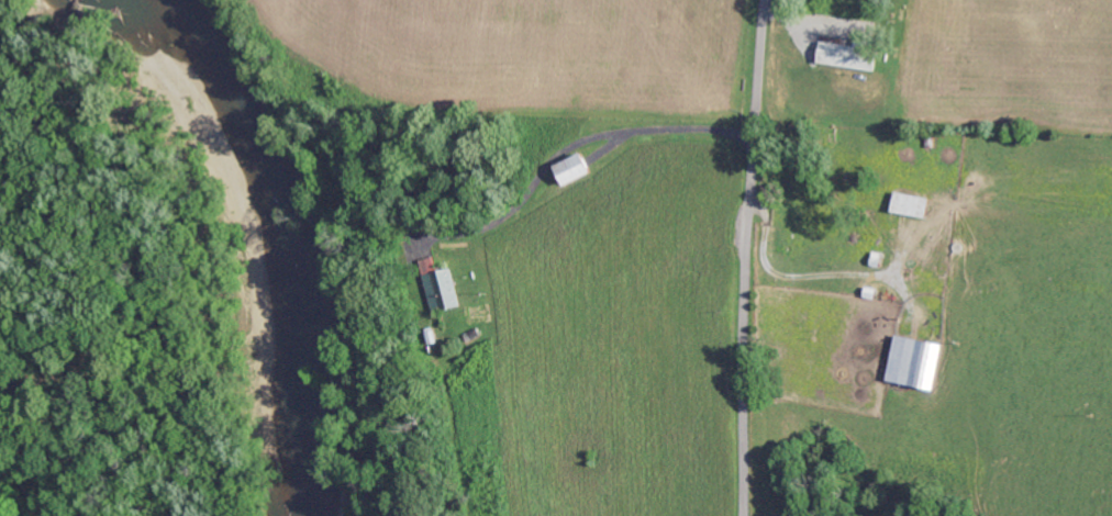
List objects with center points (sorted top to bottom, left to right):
building: (853, 54)
building: (582, 167)
building: (913, 203)
river: (281, 245)
road: (744, 257)
building: (441, 283)
building: (920, 360)

